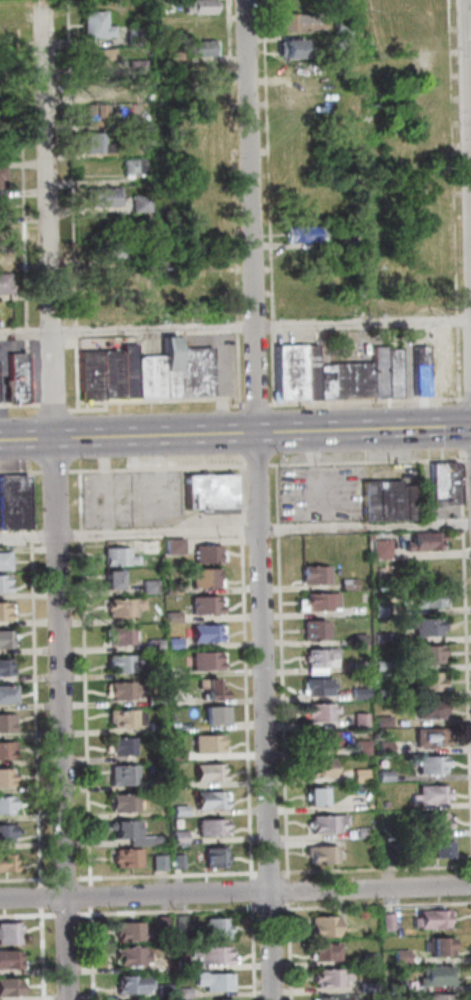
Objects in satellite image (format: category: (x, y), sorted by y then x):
building: (194, 6)
building: (336, 7)
building: (420, 17)
building: (296, 22)
building: (90, 23)
building: (337, 25)
building: (199, 29)
building: (130, 35)
building: (337, 41)
road: (52, 43)
road: (22, 45)
building: (197, 47)
building: (288, 47)
building: (337, 53)
building: (170, 56)
building: (93, 58)
building: (131, 66)
building: (333, 70)
building: (94, 88)
building: (89, 115)
road: (467, 134)
building: (93, 143)
road: (448, 151)
building: (128, 166)
building: (0, 176)
building: (133, 181)
building: (141, 182)
building: (97, 195)
building: (134, 203)
road: (228, 203)
road: (263, 203)
building: (0, 205)
road: (65, 206)
road: (16, 226)
building: (2, 229)
building: (299, 233)
building: (343, 240)
building: (102, 249)
building: (1, 255)
building: (5, 283)
building: (204, 283)
building: (103, 307)
building: (299, 308)
road: (235, 326)
road: (459, 352)
building: (170, 367)
building: (291, 371)
building: (312, 371)
building: (129, 372)
building: (381, 372)
building: (422, 372)
building: (195, 373)
building: (394, 373)
building: (90, 375)
building: (112, 375)
building: (17, 377)
building: (150, 378)
road: (221, 380)
building: (354, 380)
building: (326, 381)
road: (468, 398)
road: (141, 401)
road: (91, 402)
road: (366, 402)
road: (19, 404)
road: (256, 404)
road: (233, 405)
road: (53, 407)
road: (461, 425)
road: (364, 429)
road: (129, 437)
road: (470, 459)
road: (369, 462)
road: (258, 465)
road: (158, 468)
road: (55, 470)
road: (21, 471)
building: (446, 483)
building: (211, 490)
road: (133, 495)
road: (55, 498)
parking lot: (131, 499)
road: (259, 499)
building: (391, 500)
building: (14, 502)
building: (426, 503)
road: (235, 530)
building: (372, 537)
building: (426, 541)
building: (175, 545)
building: (383, 548)
building: (209, 553)
building: (119, 555)
building: (5, 560)
building: (317, 575)
building: (205, 577)
building: (112, 578)
building: (4, 584)
building: (350, 584)
road: (466, 585)
building: (151, 586)
building: (173, 588)
building: (429, 599)
building: (323, 601)
building: (207, 604)
building: (126, 606)
building: (382, 609)
building: (6, 611)
building: (173, 617)
building: (427, 626)
building: (315, 630)
building: (207, 633)
building: (121, 635)
building: (384, 638)
building: (7, 639)
building: (360, 639)
building: (174, 643)
building: (156, 644)
building: (428, 654)
building: (323, 657)
building: (209, 660)
building: (124, 663)
building: (384, 665)
building: (360, 666)
building: (5, 668)
building: (318, 670)
road: (247, 673)
road: (284, 673)
road: (86, 677)
road: (36, 679)
building: (431, 682)
building: (320, 687)
building: (212, 689)
building: (126, 690)
building: (7, 693)
building: (362, 694)
building: (384, 695)
building: (156, 700)
building: (434, 709)
building: (323, 712)
building: (217, 715)
building: (127, 718)
building: (363, 720)
building: (386, 721)
building: (8, 722)
building: (159, 727)
building: (432, 736)
building: (328, 739)
building: (210, 743)
building: (124, 746)
building: (365, 747)
building: (387, 748)
building: (8, 750)
building: (179, 754)
building: (434, 765)
building: (321, 766)
building: (211, 772)
building: (126, 775)
building: (387, 776)
building: (7, 777)
building: (180, 782)
building: (158, 783)
building: (434, 794)
building: (319, 796)
building: (214, 800)
building: (128, 802)
building: (388, 804)
building: (8, 805)
building: (182, 811)
building: (436, 820)
building: (330, 823)
building: (214, 827)
building: (368, 832)
building: (8, 833)
building: (137, 833)
building: (181, 837)
building: (443, 847)
building: (325, 854)
building: (391, 856)
building: (218, 857)
building: (130, 858)
building: (181, 861)
building: (162, 862)
building: (9, 863)
road: (377, 869)
road: (272, 872)
road: (169, 875)
road: (21, 879)
road: (67, 879)
road: (50, 880)
road: (235, 890)
road: (255, 891)
road: (291, 891)
road: (93, 896)
road: (43, 898)
road: (378, 905)
road: (274, 909)
road: (171, 911)
road: (69, 914)
road: (28, 915)
building: (435, 919)
building: (391, 921)
building: (166, 923)
building: (184, 923)
building: (327, 926)
building: (220, 929)
building: (134, 931)
building: (11, 933)
building: (444, 946)
road: (256, 950)
road: (292, 951)
building: (328, 951)
road: (95, 952)
road: (45, 954)
building: (215, 955)
building: (134, 956)
building: (404, 956)
building: (371, 959)
building: (11, 960)
building: (185, 964)
building: (440, 975)
building: (336, 977)
building: (217, 980)
building: (137, 984)
building: (401, 986)
building: (12, 987)
building: (372, 987)
building: (168, 991)
building: (186, 993)
building: (444, 996)
building: (334, 998)
building: (223, 999)

